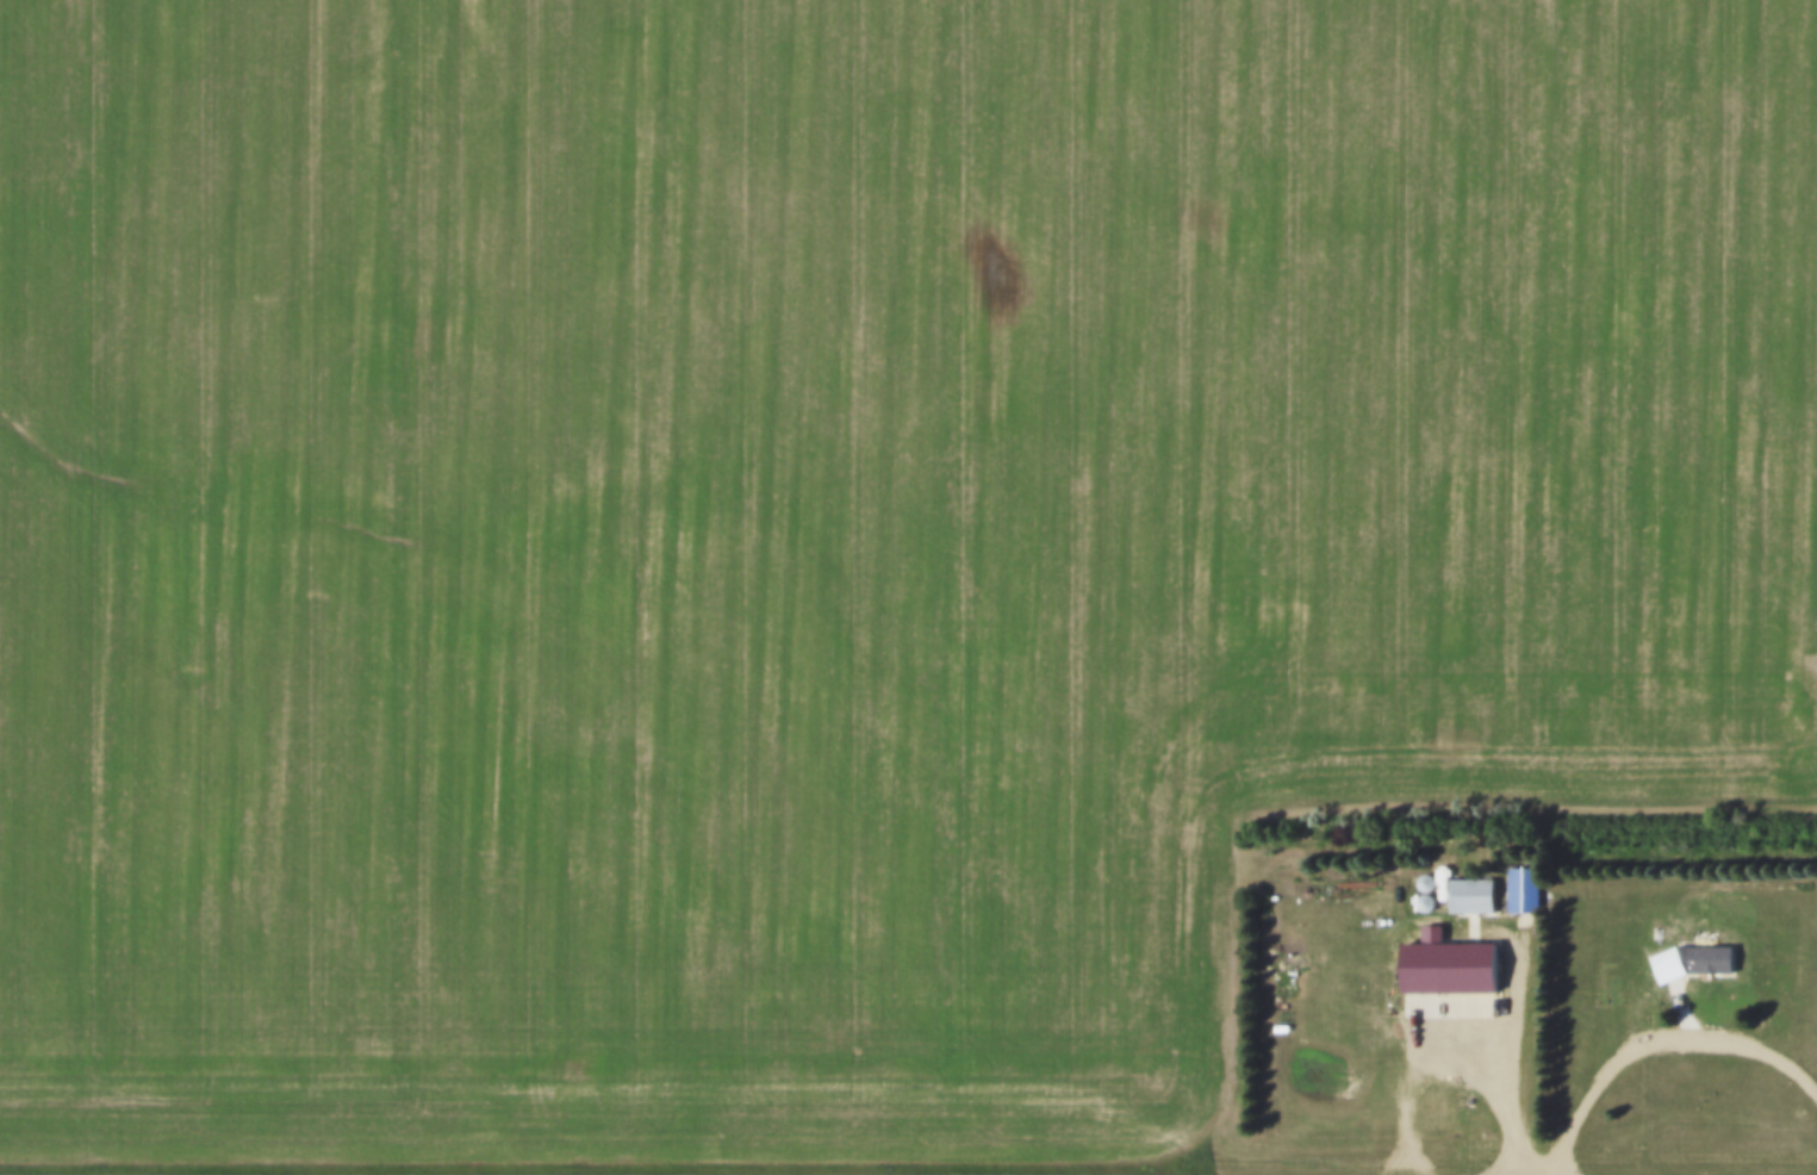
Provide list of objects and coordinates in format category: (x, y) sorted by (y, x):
building: (1421, 874)
silo: (1421, 874)
building: (1519, 881)
building: (1467, 885)
building: (1420, 894)
silo: (1420, 894)
building: (1653, 924)
building: (1701, 951)
building: (1463, 958)
road: (1657, 1040)
road: (1486, 1083)

